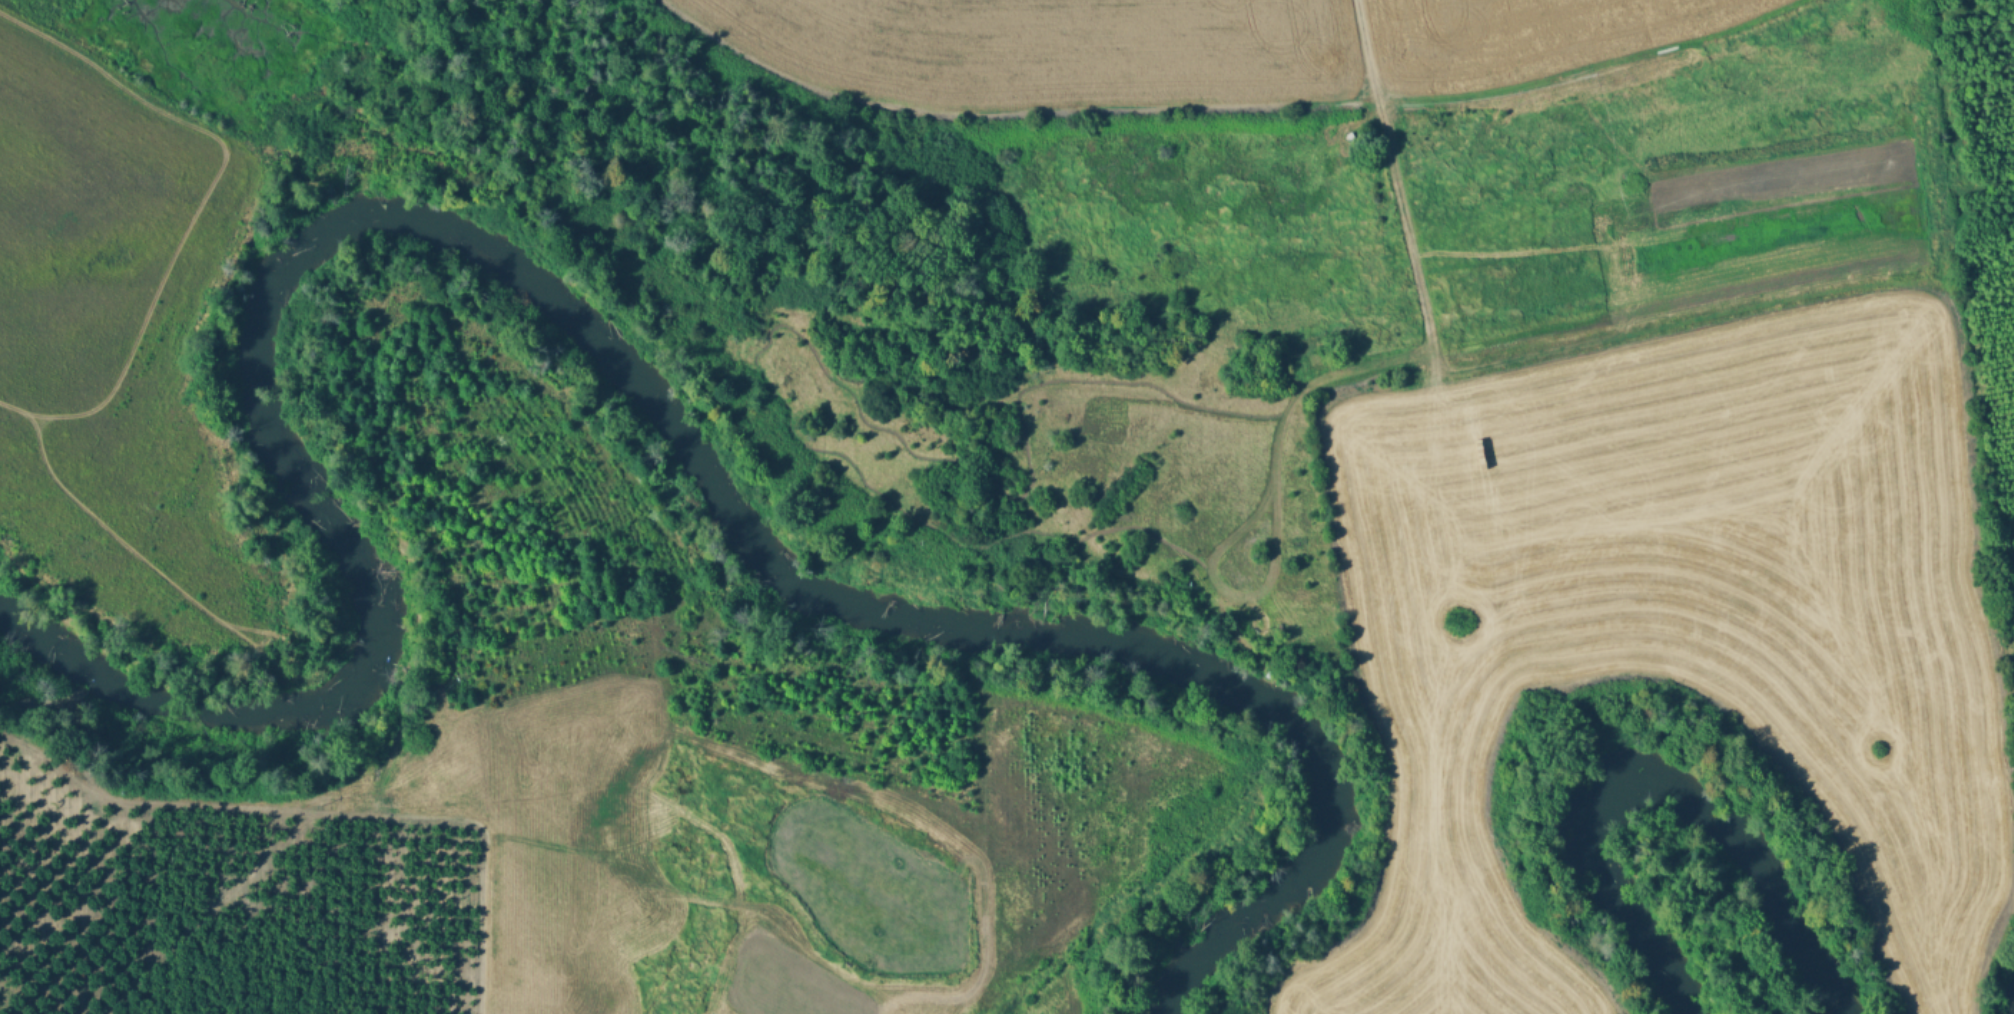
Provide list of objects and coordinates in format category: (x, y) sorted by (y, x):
crop: (1518, 38)
crop: (1045, 50)
road: (1402, 197)
road: (198, 203)
river: (590, 346)
road: (125, 542)
crop: (1678, 623)
river: (1645, 783)

